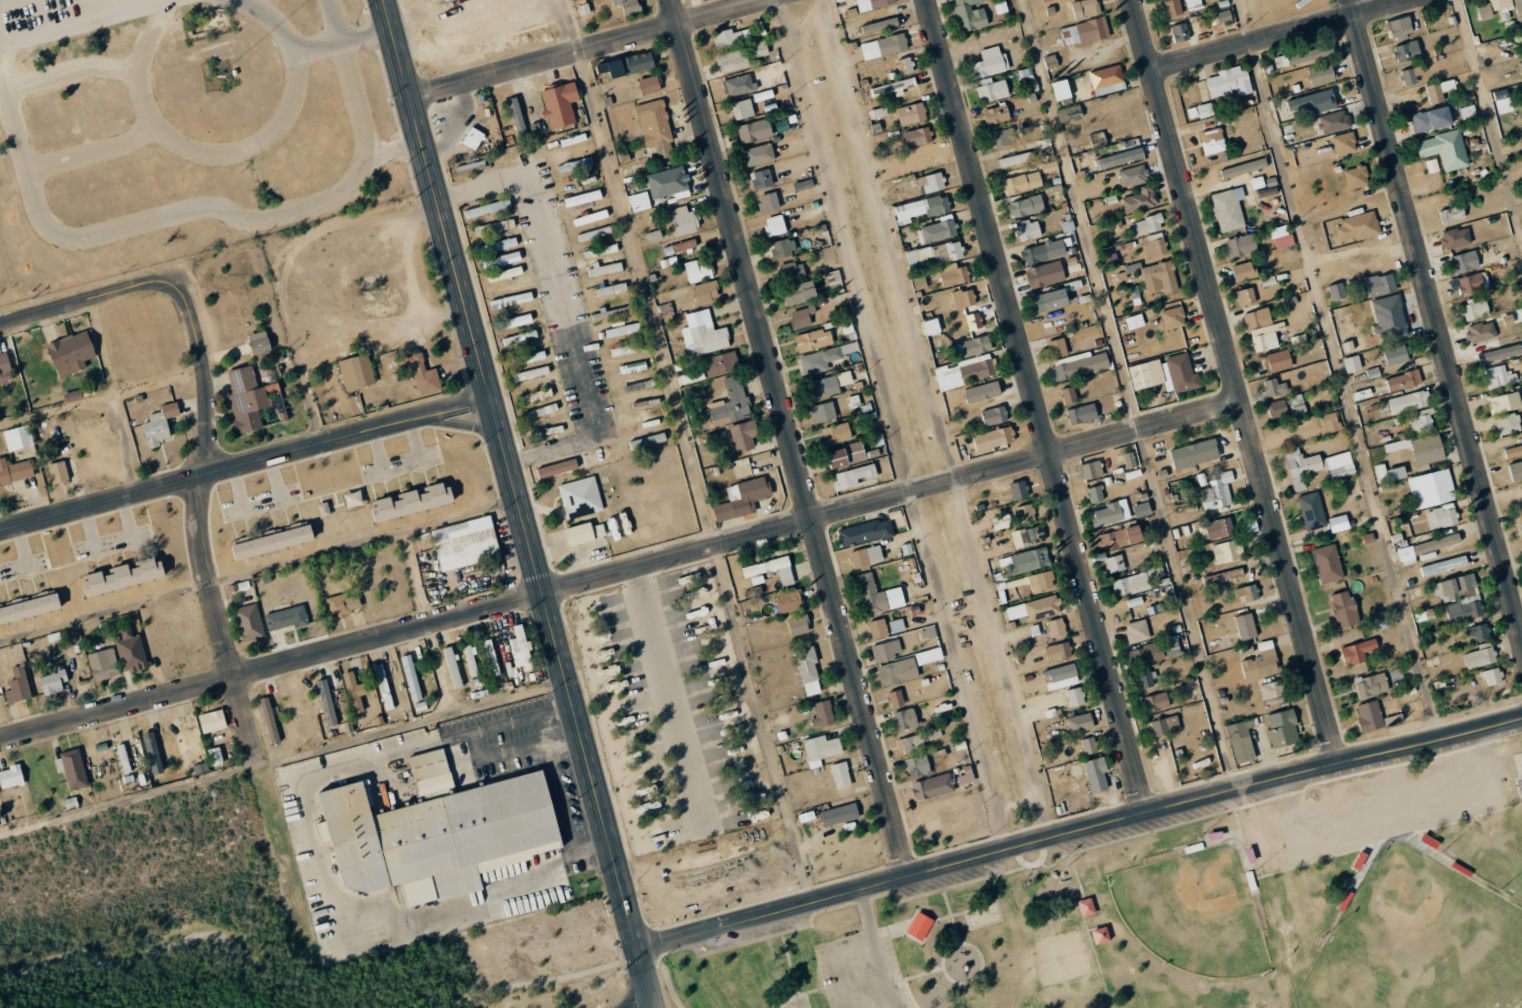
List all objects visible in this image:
road: (227, 1)
building: (872, 4)
building: (1193, 4)
building: (627, 6)
building: (1172, 8)
building: (1085, 9)
building: (1519, 9)
road: (166, 11)
building: (1485, 13)
building: (970, 14)
building: (1220, 17)
road: (86, 24)
building: (879, 25)
building: (1398, 28)
building: (1083, 32)
building: (1179, 33)
road: (1282, 35)
building: (731, 37)
road: (345, 41)
building: (883, 46)
building: (758, 48)
road: (593, 49)
building: (1406, 50)
building: (1301, 56)
building: (733, 60)
building: (990, 62)
building: (627, 65)
building: (905, 65)
building: (1520, 66)
road: (74, 70)
building: (1321, 74)
building: (1408, 76)
building: (1106, 79)
building: (1229, 82)
building: (649, 84)
road: (144, 85)
building: (739, 85)
building: (893, 87)
building: (992, 90)
building: (1061, 90)
building: (1438, 90)
building: (1313, 101)
building: (559, 104)
building: (742, 109)
building: (1200, 111)
building: (877, 112)
building: (911, 113)
building: (1468, 113)
building: (1069, 114)
building: (517, 115)
building: (996, 115)
road: (1489, 118)
building: (1430, 119)
building: (1334, 121)
building: (656, 128)
building: (754, 130)
building: (917, 137)
building: (1002, 137)
building: (473, 138)
building: (1213, 140)
building: (1344, 143)
building: (1444, 149)
road: (95, 152)
building: (759, 154)
building: (1120, 158)
building: (923, 159)
building: (1015, 159)
building: (1050, 166)
building: (470, 167)
building: (1243, 168)
building: (1133, 175)
building: (1356, 176)
building: (761, 178)
building: (667, 182)
building: (931, 182)
building: (1022, 182)
building: (803, 185)
building: (583, 198)
building: (1140, 199)
building: (639, 201)
building: (768, 202)
building: (1026, 206)
building: (921, 208)
building: (482, 209)
building: (1228, 209)
building: (1452, 214)
building: (590, 217)
road: (169, 218)
building: (683, 220)
building: (774, 225)
building: (1146, 225)
building: (494, 226)
building: (1358, 226)
building: (938, 230)
building: (1028, 230)
building: (593, 233)
building: (654, 235)
building: (1281, 237)
building: (1455, 238)
road: (886, 240)
building: (496, 245)
building: (684, 245)
building: (1241, 245)
building: (1155, 247)
building: (782, 248)
building: (1044, 250)
building: (600, 251)
building: (947, 251)
building: (919, 254)
building: (501, 260)
building: (1465, 261)
building: (915, 266)
building: (603, 269)
building: (698, 269)
building: (792, 270)
road: (284, 271)
building: (1243, 271)
building: (505, 273)
building: (952, 274)
building: (1044, 274)
building: (1160, 277)
building: (1470, 283)
building: (1380, 284)
building: (610, 289)
building: (1336, 291)
building: (705, 292)
building: (799, 293)
building: (1245, 296)
building: (963, 298)
road: (98, 299)
building: (1050, 299)
building: (511, 300)
road: (558, 302)
building: (1475, 308)
building: (613, 315)
building: (1388, 316)
building: (1173, 317)
building: (1512, 317)
building: (800, 318)
building: (1257, 318)
road: (1435, 318)
building: (973, 321)
building: (512, 322)
building: (931, 326)
building: (622, 330)
building: (1480, 331)
building: (703, 334)
building: (1265, 336)
building: (519, 338)
building: (813, 340)
building: (259, 342)
building: (974, 346)
building: (1057, 347)
building: (626, 349)
building: (1501, 352)
building: (71, 353)
building: (1396, 355)
building: (528, 358)
building: (823, 359)
building: (1278, 360)
building: (720, 363)
building: (1351, 363)
building: (1078, 365)
building: (632, 367)
building: (5, 368)
road: (1337, 368)
building: (963, 371)
building: (356, 372)
building: (421, 373)
building: (530, 373)
building: (1178, 374)
building: (1140, 376)
building: (1499, 376)
building: (690, 377)
building: (1403, 380)
road: (1233, 381)
building: (827, 385)
building: (1274, 386)
building: (982, 392)
building: (1068, 394)
building: (536, 395)
road: (1126, 395)
road: (104, 399)
building: (1408, 401)
building: (1504, 401)
building: (730, 402)
building: (1298, 405)
road: (1034, 407)
building: (540, 411)
building: (823, 412)
building: (1081, 414)
building: (993, 416)
building: (1421, 421)
building: (1330, 422)
building: (1507, 423)
building: (159, 424)
road: (890, 425)
road: (455, 426)
building: (835, 433)
building: (743, 435)
building: (18, 437)
road: (788, 438)
building: (993, 438)
building: (648, 440)
building: (1397, 445)
building: (1427, 449)
building: (1513, 451)
road: (686, 452)
building: (1194, 453)
building: (846, 455)
building: (1129, 459)
road: (247, 466)
building: (1316, 466)
building: (557, 468)
building: (1515, 469)
building: (1090, 470)
building: (15, 471)
building: (58, 473)
building: (1388, 473)
building: (854, 476)
building: (1018, 489)
building: (1431, 489)
building: (1218, 491)
building: (1094, 494)
building: (580, 497)
building: (742, 498)
building: (412, 501)
road: (522, 503)
building: (1141, 509)
building: (1312, 511)
building: (1111, 512)
building: (1025, 513)
building: (1442, 516)
building: (1520, 522)
building: (1338, 523)
building: (1219, 527)
building: (865, 532)
building: (1202, 532)
building: (1034, 534)
building: (1121, 537)
building: (272, 542)
building: (465, 543)
building: (1436, 543)
building: (1226, 551)
building: (1406, 555)
building: (866, 556)
building: (1115, 563)
building: (1327, 564)
building: (1443, 565)
building: (772, 569)
building: (1154, 570)
road: (619, 573)
building: (124, 576)
building: (1223, 576)
building: (1041, 581)
building: (1131, 584)
building: (1247, 592)
building: (877, 595)
building: (1460, 598)
building: (789, 601)
building: (343, 604)
building: (29, 608)
building: (1035, 608)
building: (1344, 609)
building: (287, 618)
building: (249, 622)
building: (798, 625)
building: (896, 625)
building: (1245, 626)
building: (1055, 627)
building: (878, 628)
building: (1137, 631)
building: (1478, 632)
road: (226, 641)
building: (1171, 647)
building: (520, 648)
building: (130, 650)
building: (885, 650)
building: (1057, 651)
building: (1357, 651)
building: (1145, 654)
building: (928, 656)
building: (491, 657)
building: (1479, 657)
road: (1000, 659)
building: (471, 661)
building: (1261, 661)
building: (103, 664)
building: (452, 667)
building: (807, 670)
building: (897, 671)
building: (1492, 676)
building: (411, 677)
building: (1060, 677)
building: (1147, 679)
building: (53, 682)
building: (1371, 685)
building: (18, 686)
building: (383, 687)
building: (1270, 690)
building: (354, 691)
building: (1074, 697)
building: (895, 698)
building: (326, 702)
building: (1156, 702)
building: (822, 714)
building: (1369, 716)
building: (905, 719)
building: (269, 720)
building: (212, 721)
building: (1079, 723)
building: (1165, 725)
building: (1282, 729)
building: (1241, 741)
building: (910, 744)
building: (1088, 745)
building: (820, 749)
building: (152, 753)
building: (215, 756)
building: (123, 758)
building: (917, 765)
building: (72, 769)
building: (431, 773)
building: (840, 775)
building: (965, 775)
building: (1096, 775)
building: (11, 777)
building: (932, 786)
road: (129, 800)
building: (839, 814)
road: (1079, 831)
building: (437, 837)
park: (1194, 912)
park: (1190, 914)
park: (247, 925)
building: (920, 926)
road: (199, 937)
park: (1417, 941)
road: (878, 949)
road: (581, 971)

